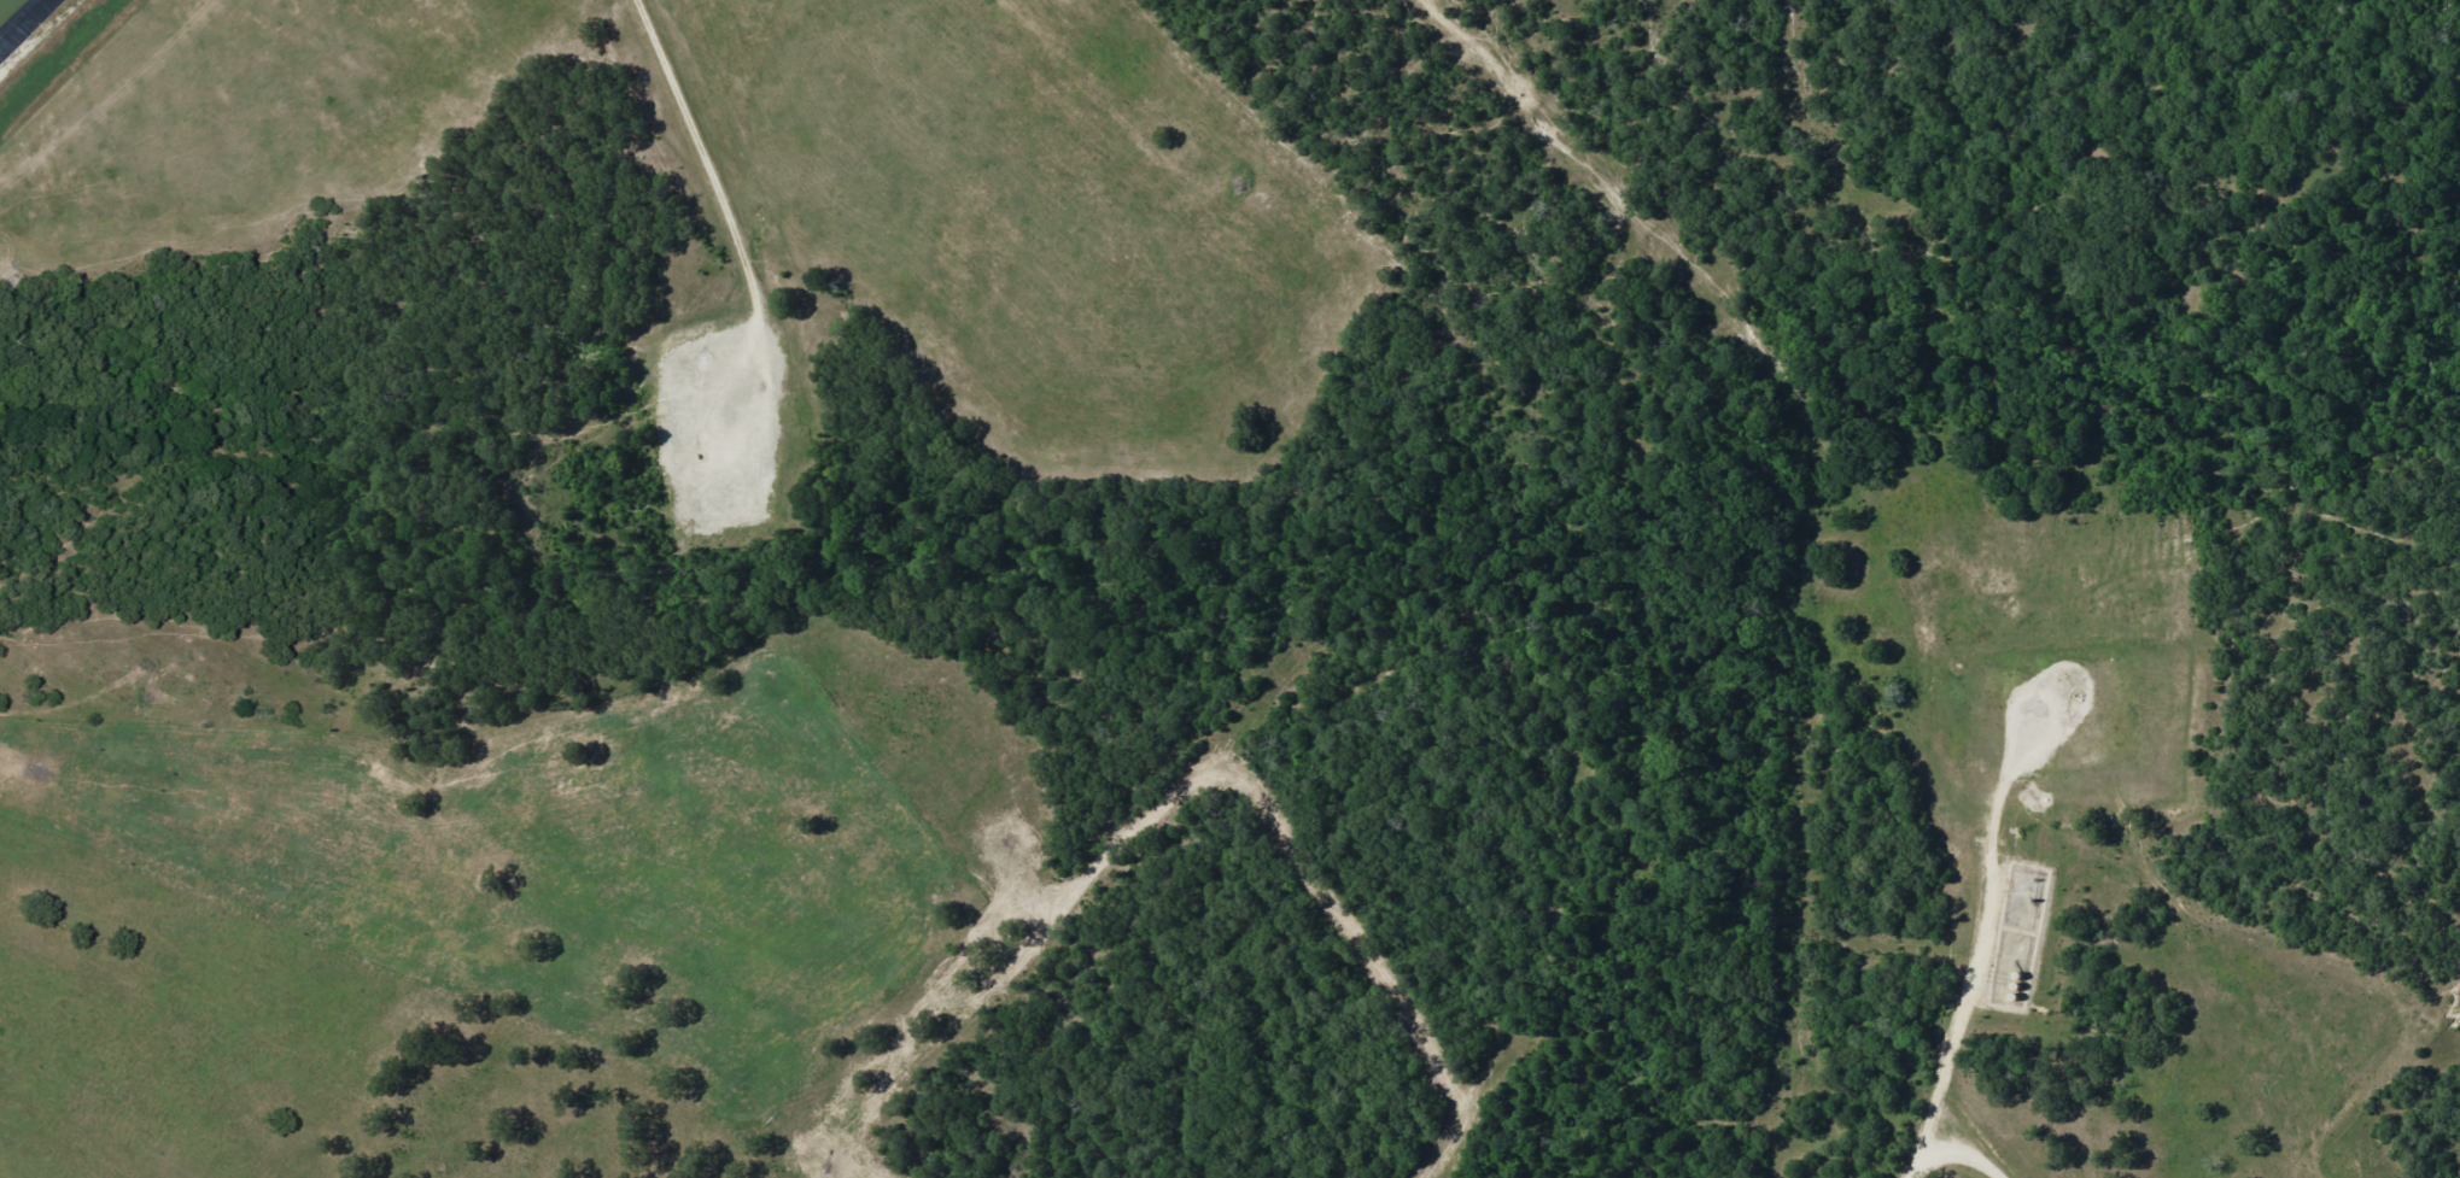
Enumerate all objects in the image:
petroleum well: (686, 456)

